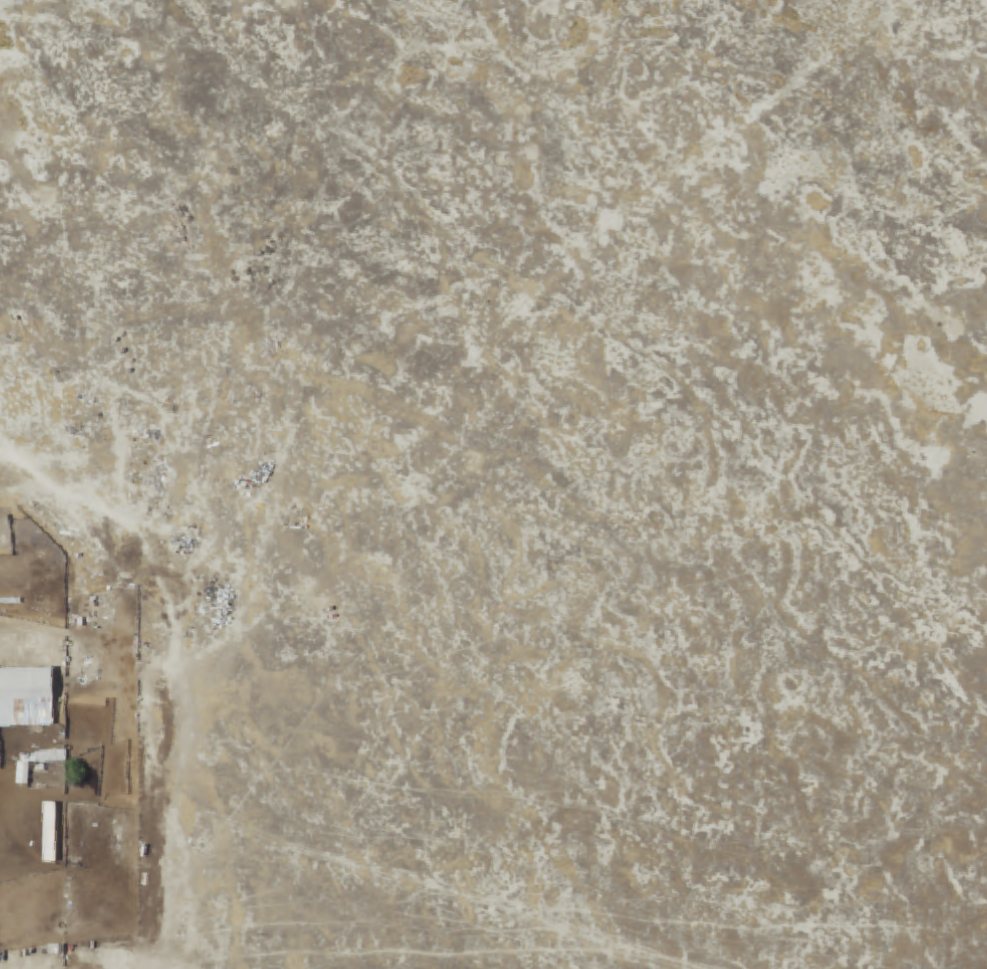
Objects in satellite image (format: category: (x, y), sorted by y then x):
building: (7, 715)
building: (29, 719)

